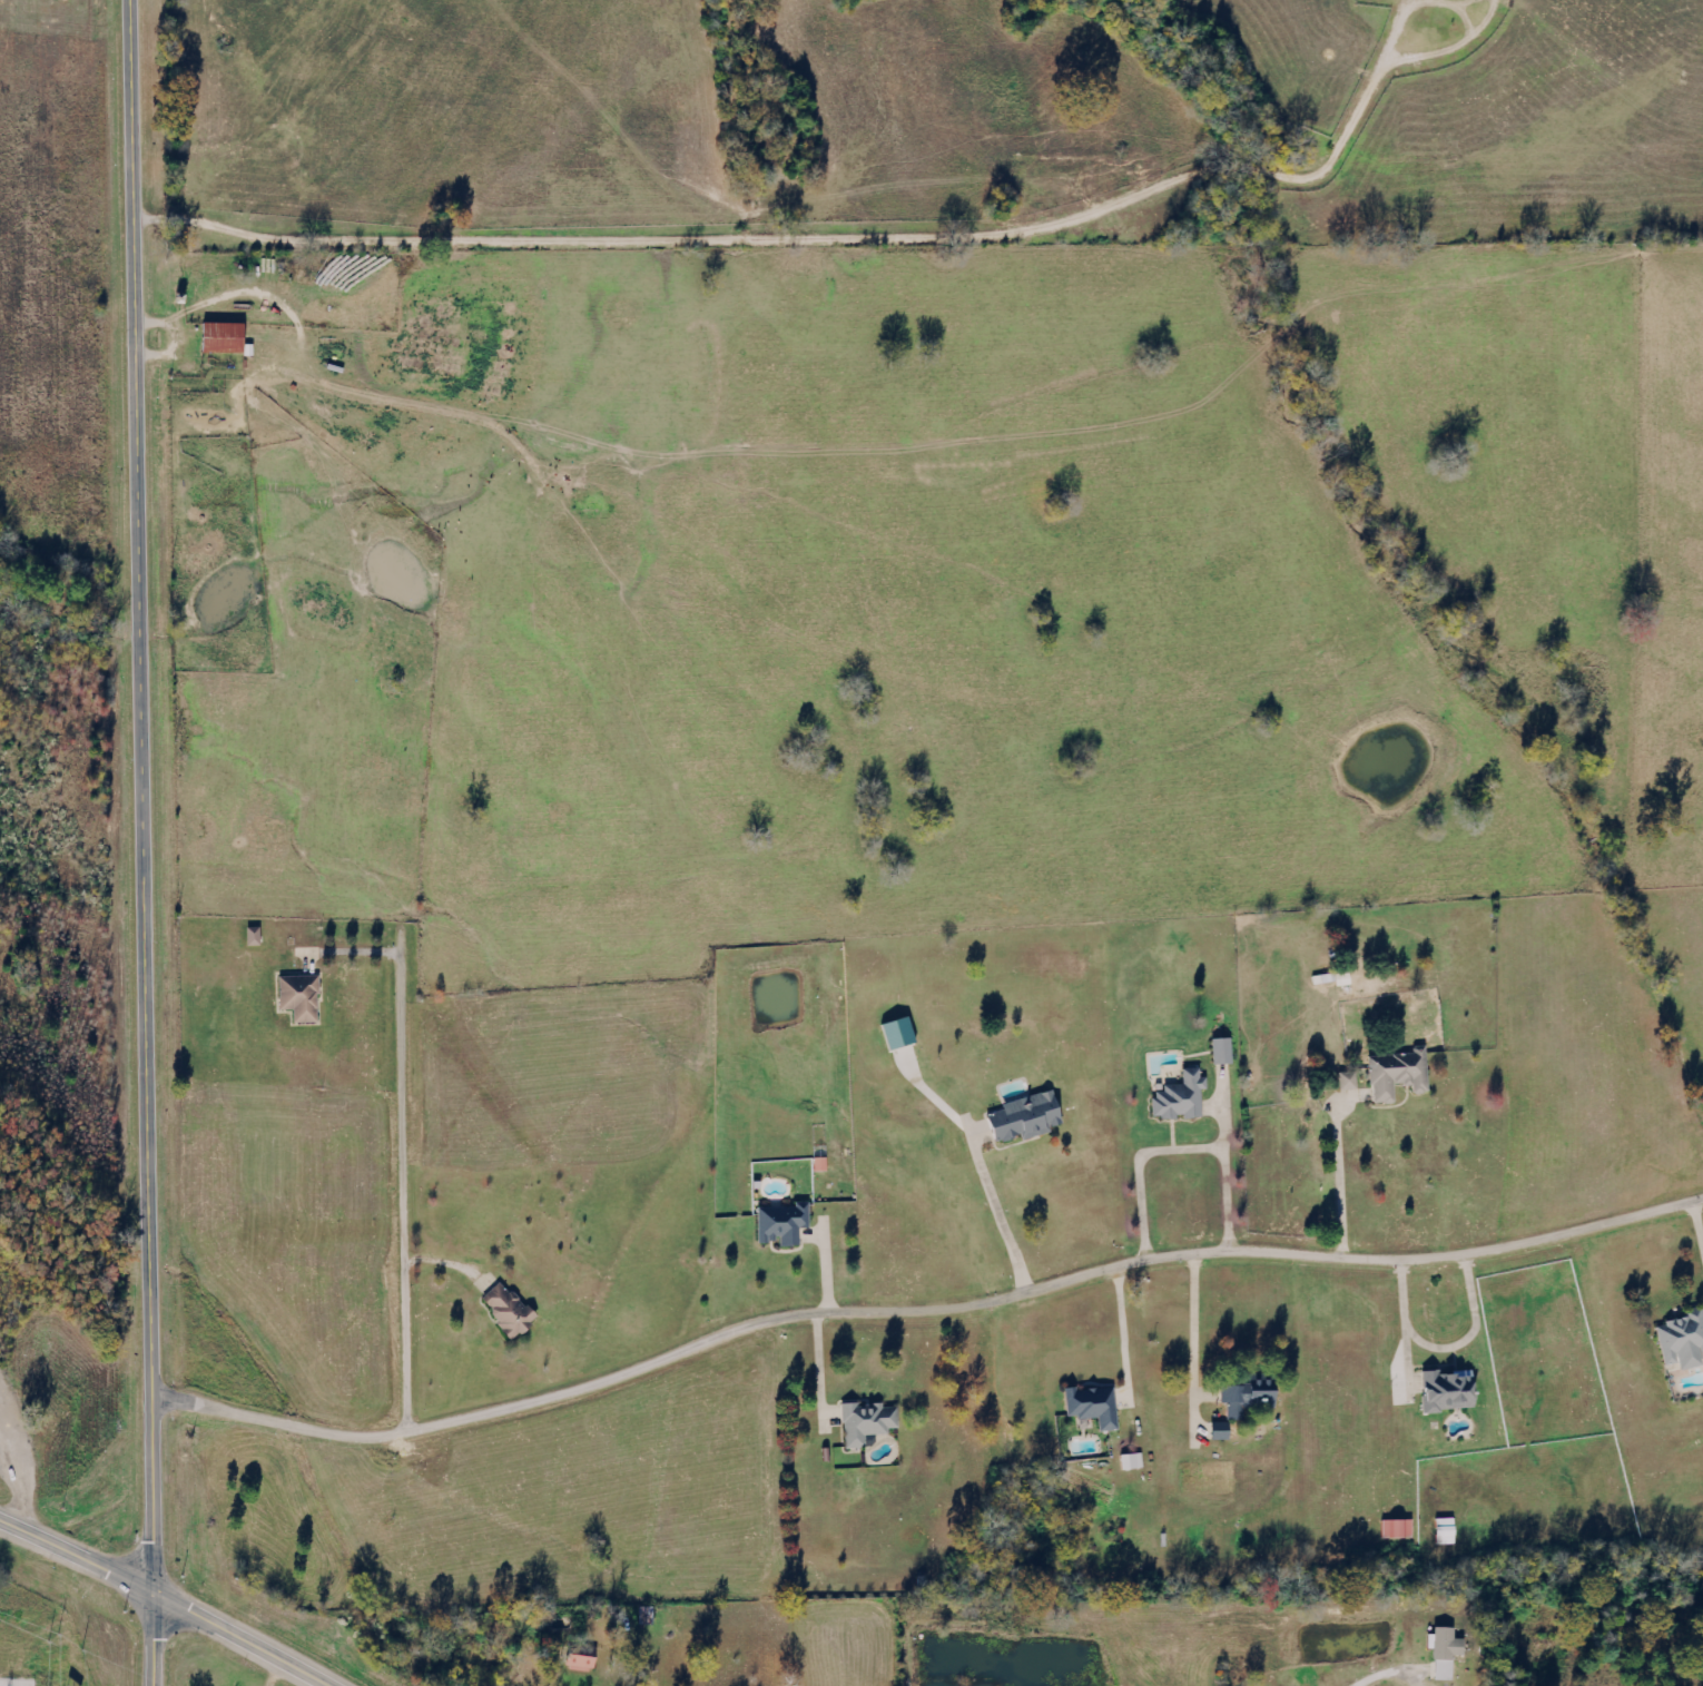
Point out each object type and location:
building: (229, 338)
road: (144, 842)
building: (1331, 979)
building: (296, 993)
building: (904, 1034)
building: (1220, 1051)
building: (1397, 1074)
building: (1347, 1081)
building: (1178, 1097)
building: (1032, 1117)
road: (1182, 1150)
road: (1342, 1176)
road: (400, 1199)
road: (1000, 1212)
road: (1699, 1220)
building: (787, 1224)
road: (924, 1308)
building: (509, 1312)
building: (1682, 1340)
road: (1447, 1348)
building: (1446, 1391)
building: (1243, 1399)
building: (1097, 1406)
building: (872, 1422)
building: (1136, 1461)
building: (1396, 1529)
building: (1443, 1531)
road: (158, 1606)
building: (1443, 1653)
building: (588, 1663)
road: (1371, 1673)

